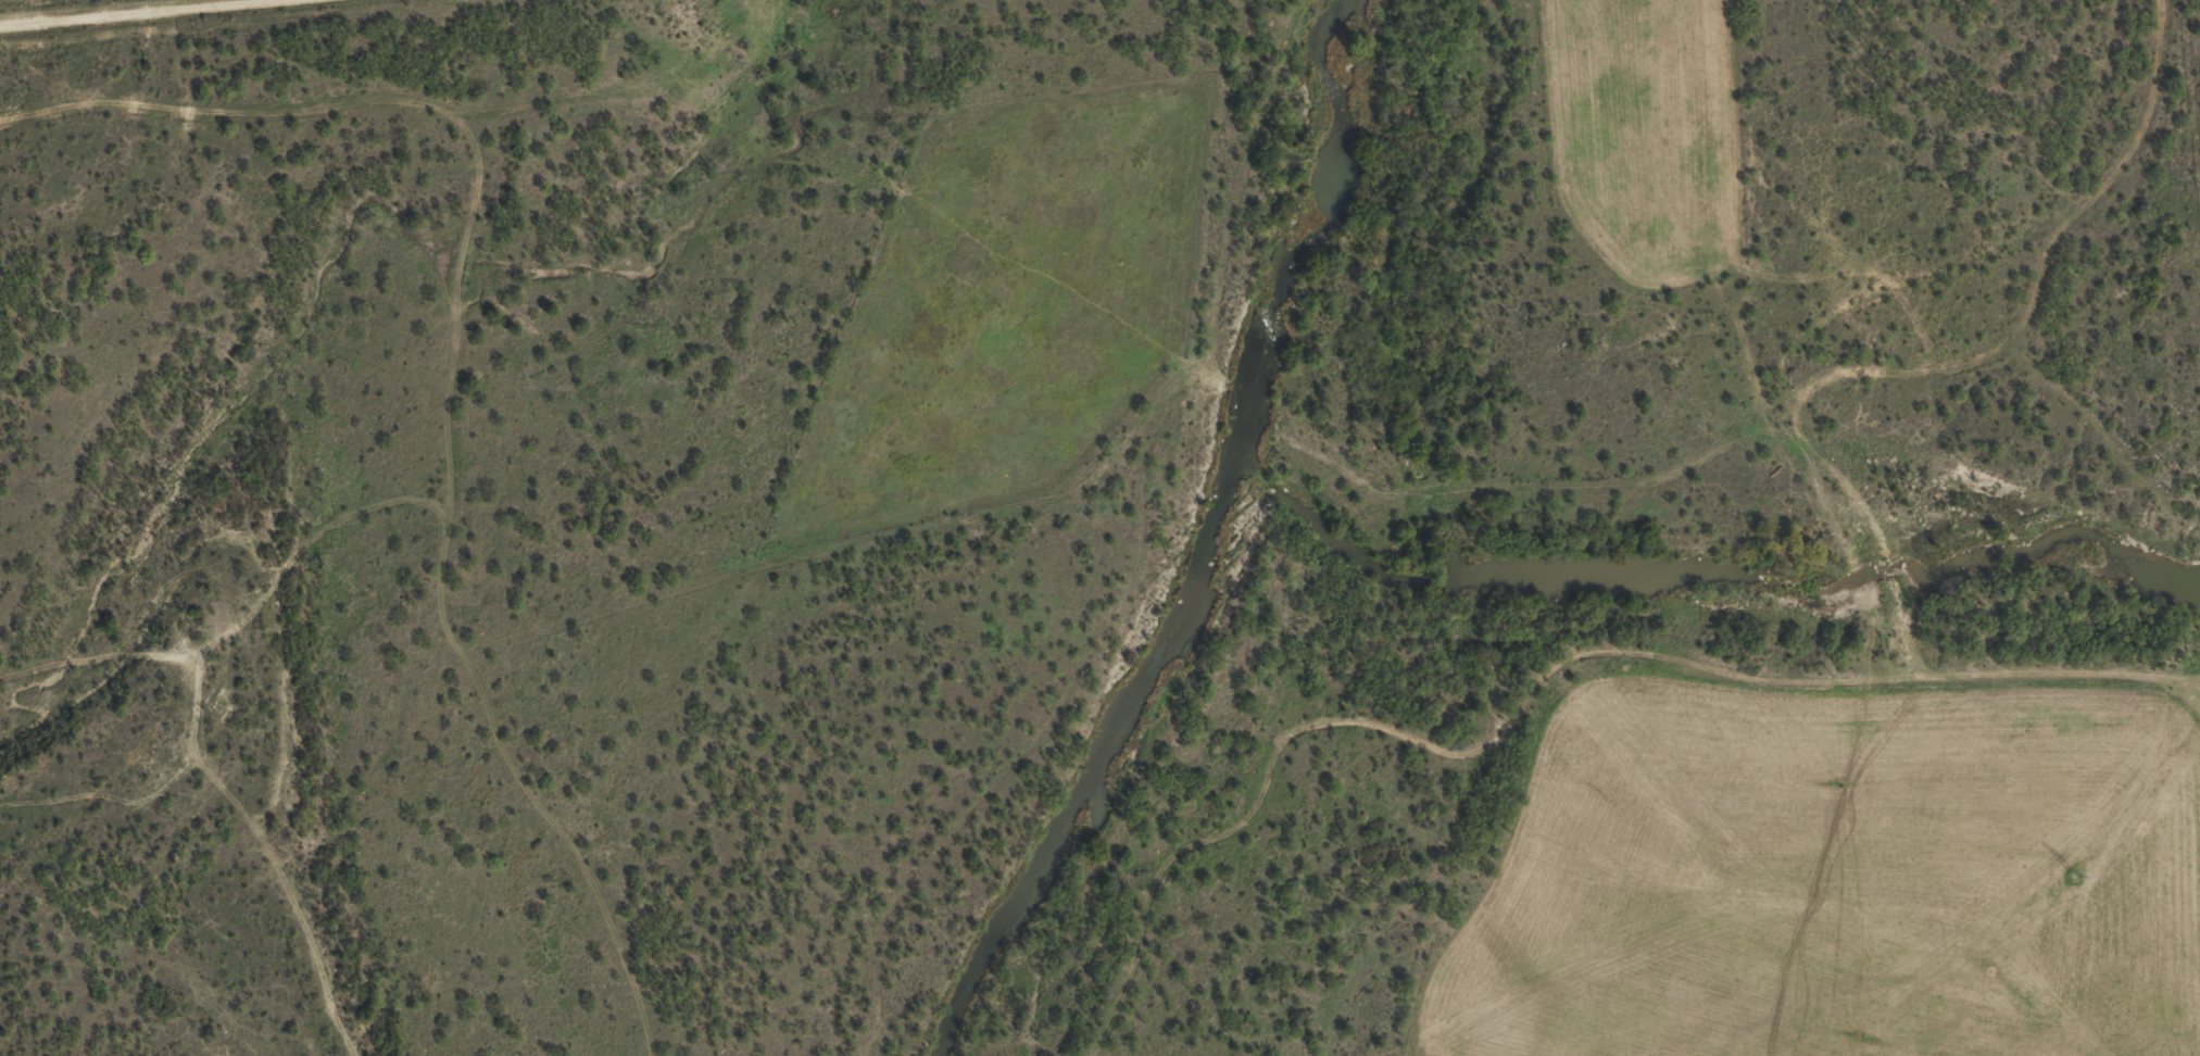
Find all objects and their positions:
road: (68, 8)
road: (448, 388)
road: (1864, 605)
power tower: (2073, 875)

